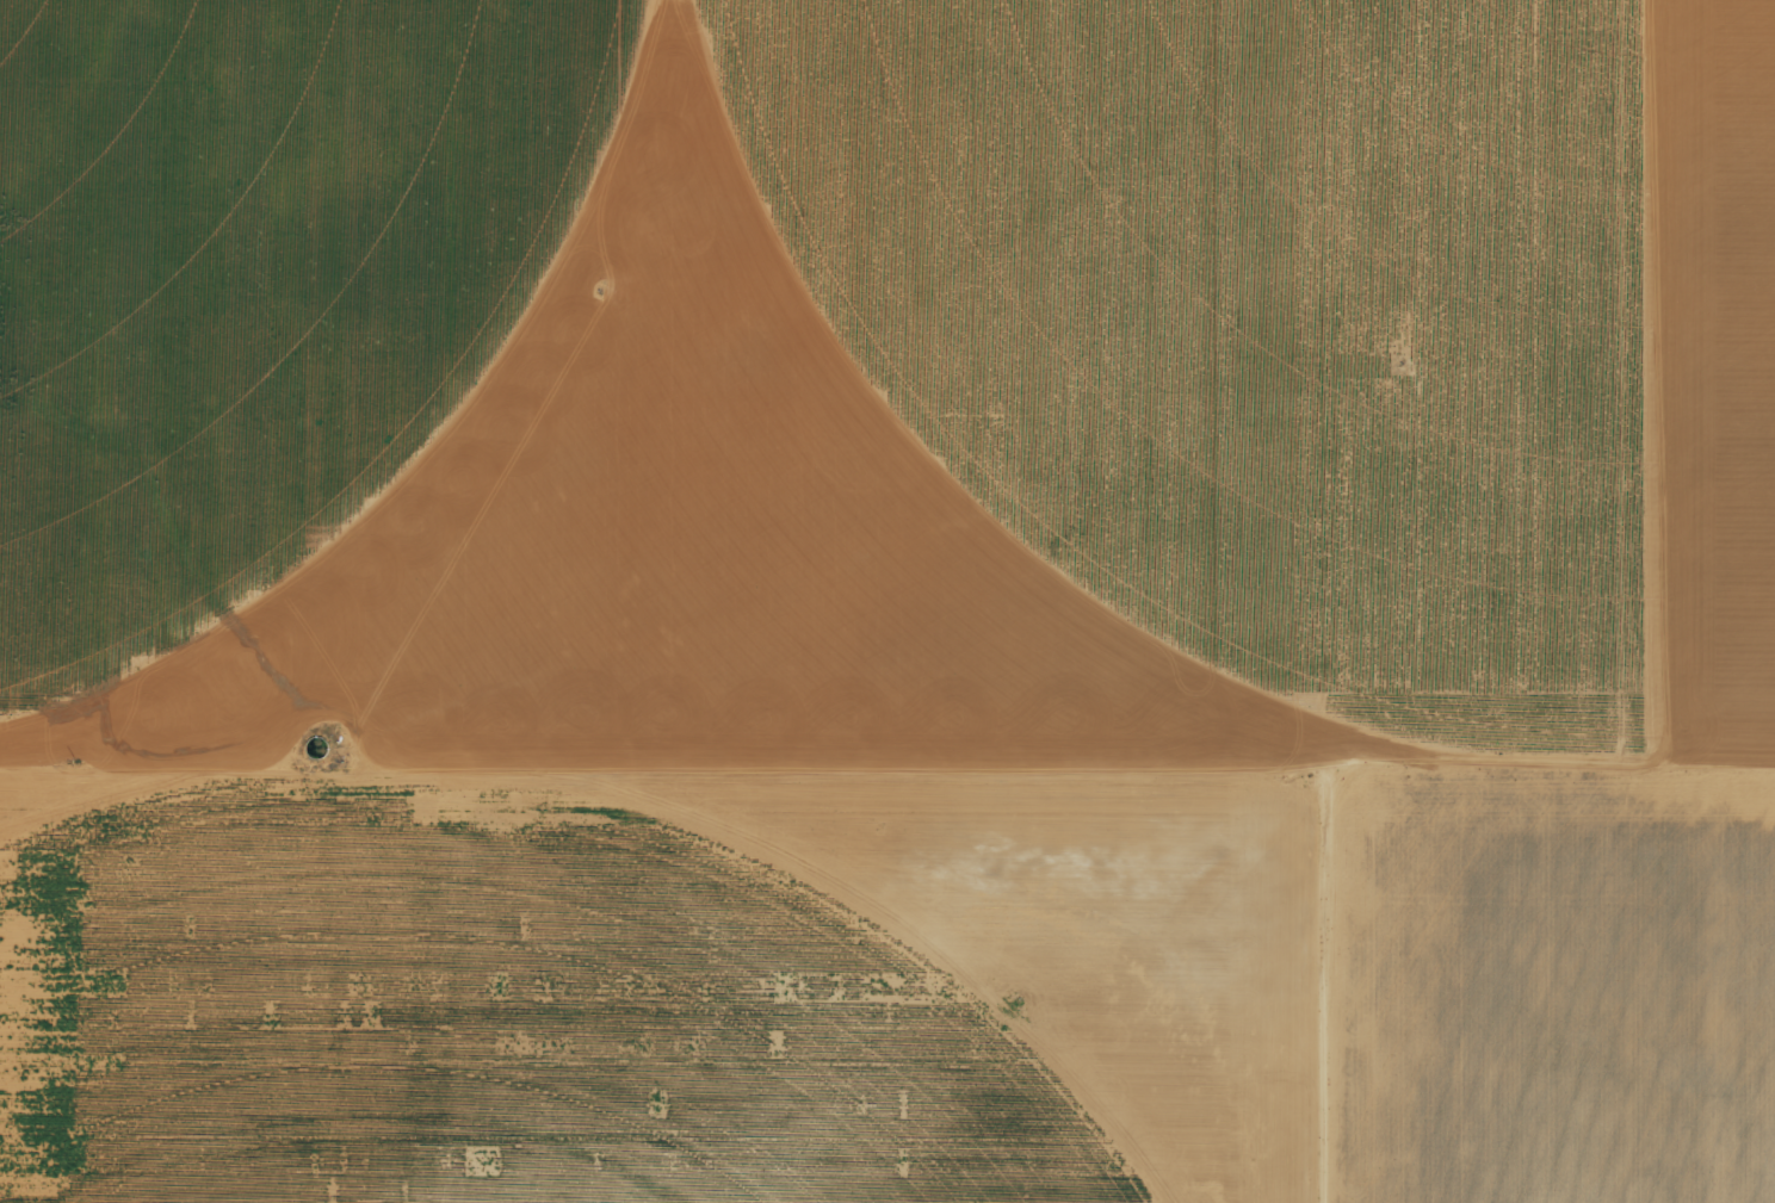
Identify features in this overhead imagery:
road: (1336, 743)

